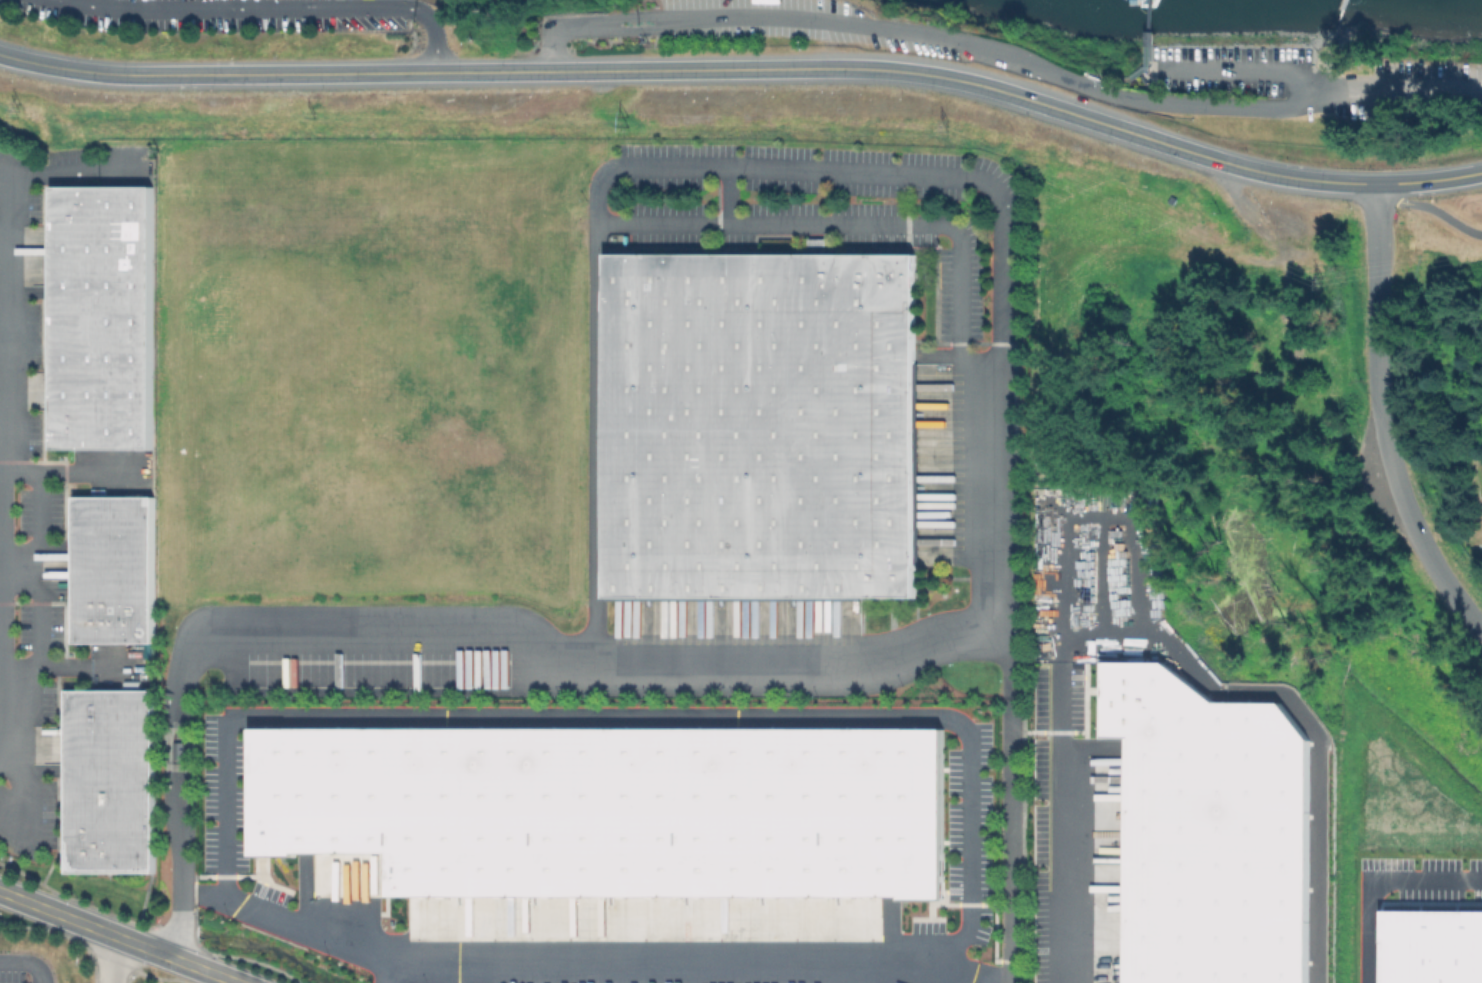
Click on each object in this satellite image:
building: (1135, 1)
pier: (1338, 8)
road: (272, 9)
pier: (1147, 22)
road: (1333, 44)
road: (1003, 52)
road: (694, 69)
road: (1248, 71)
road: (1134, 72)
park: (1410, 97)
road: (1429, 180)
road: (724, 196)
road: (1430, 207)
road: (866, 224)
building: (103, 318)
building: (1297, 356)
park: (1444, 367)
road: (1381, 418)
building: (761, 425)
road: (999, 428)
road: (1, 454)
road: (2, 535)
road: (1, 543)
building: (115, 570)
road: (30, 625)
road: (1, 633)
road: (1156, 637)
building: (503, 668)
road: (266, 714)
building: (111, 782)
road: (1008, 807)
building: (610, 810)
building: (1209, 831)
road: (179, 854)
road: (1372, 878)
road: (203, 891)
road: (118, 937)
building: (1431, 946)
road: (114, 959)
road: (25, 964)
road: (388, 969)
road: (204, 977)
road: (956, 980)

